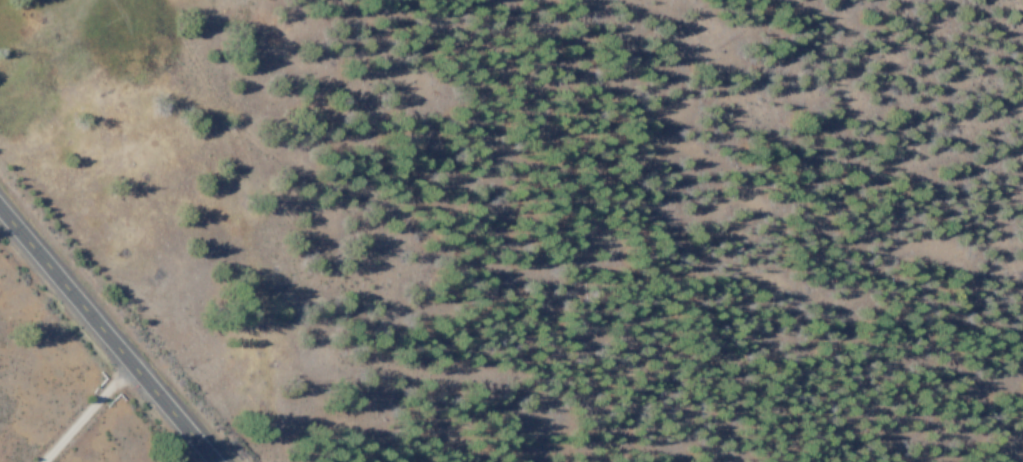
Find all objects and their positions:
road: (105, 337)

